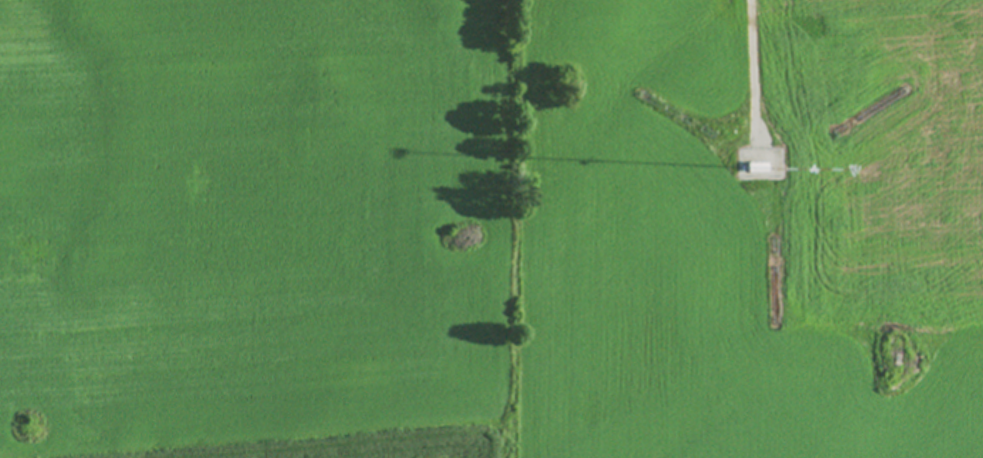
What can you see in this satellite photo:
road: (752, 65)

